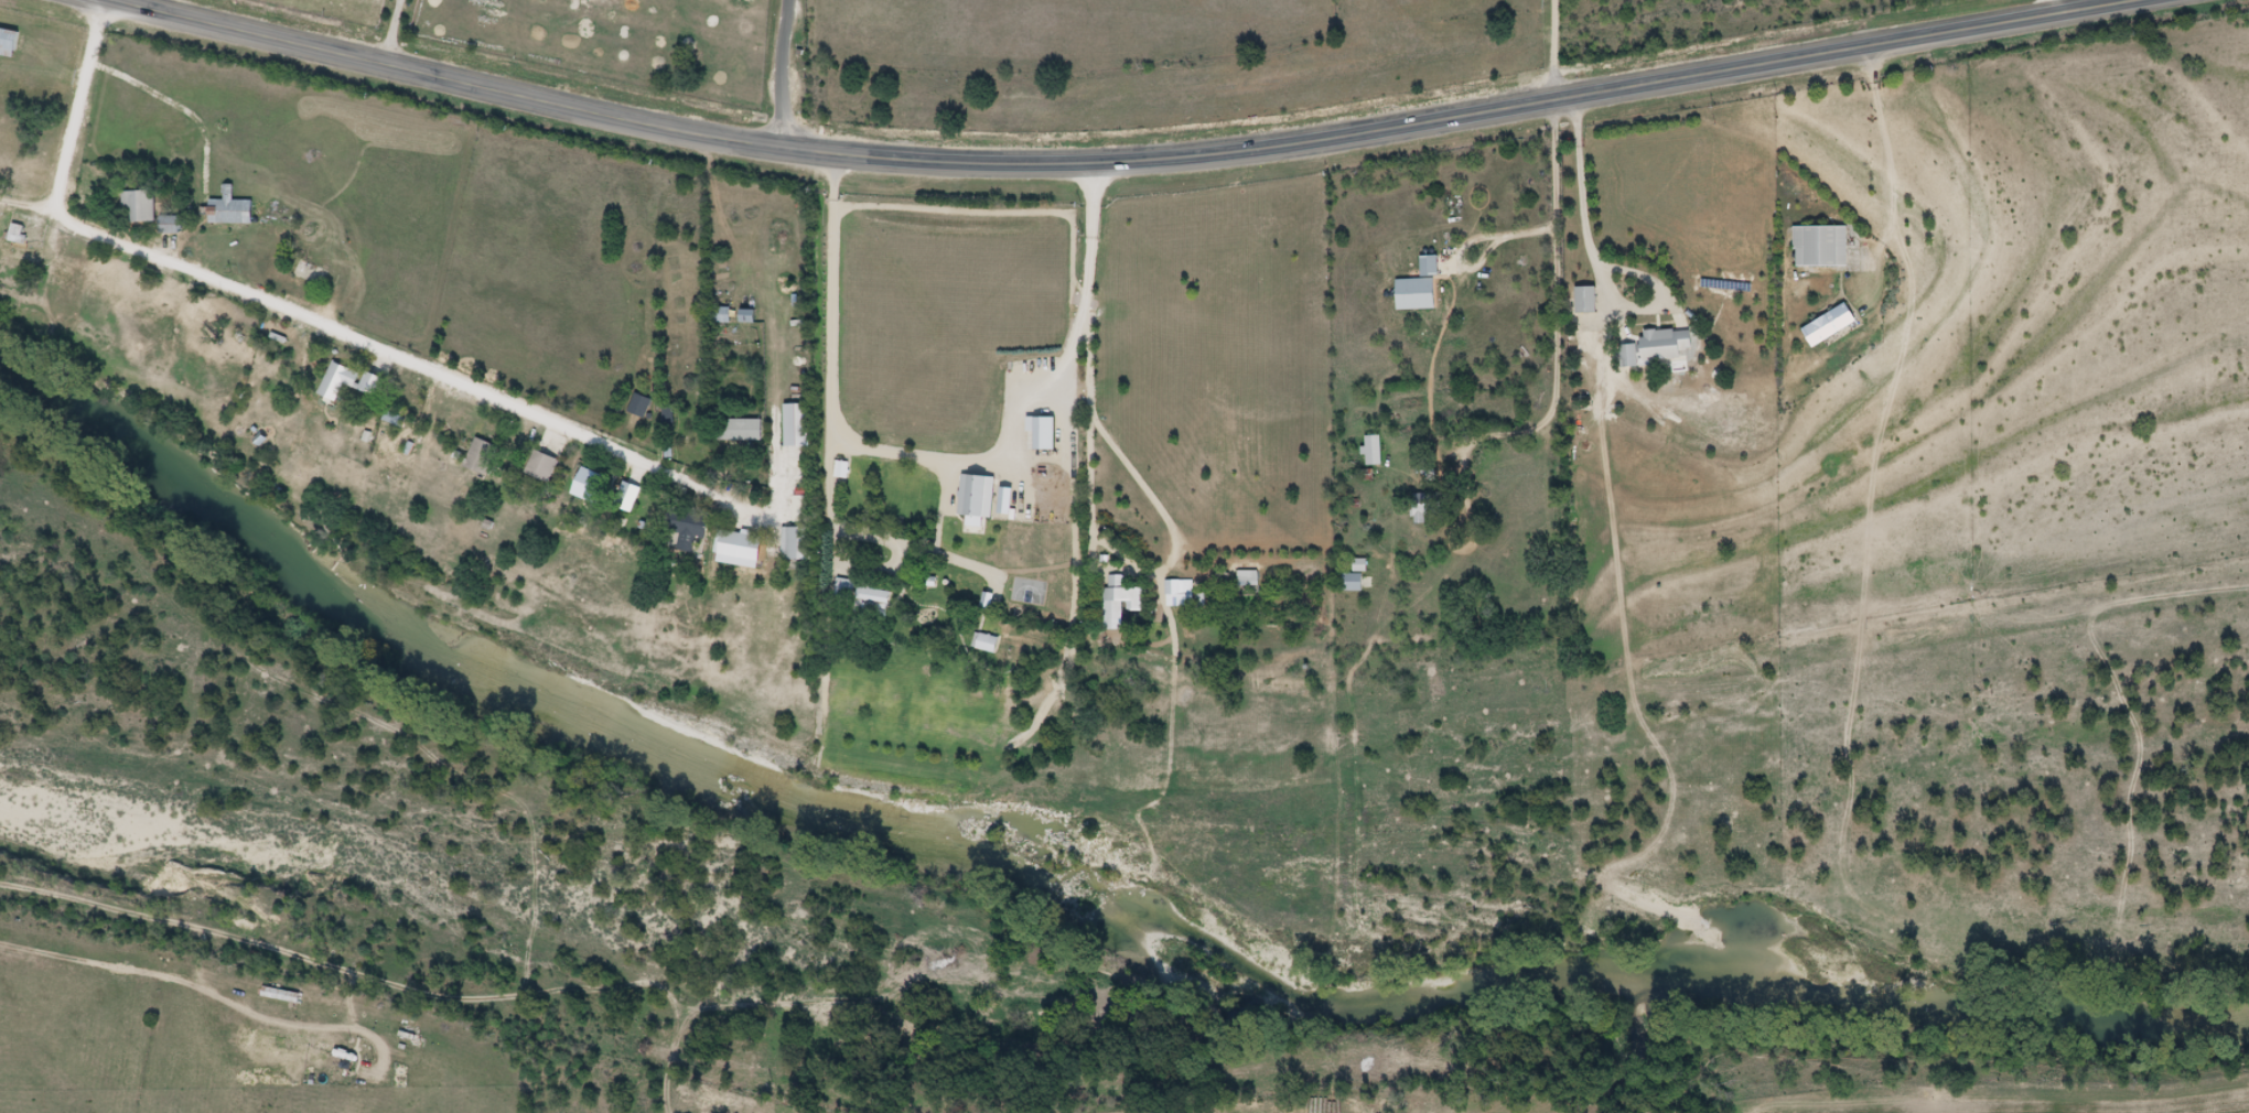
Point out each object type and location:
road: (2055, 8)
road: (370, 31)
road: (1709, 39)
road: (1653, 42)
building: (13, 43)
road: (1597, 46)
road: (1550, 52)
road: (790, 76)
road: (1885, 136)
road: (1119, 161)
road: (1588, 203)
building: (147, 206)
building: (234, 215)
road: (35, 221)
building: (176, 225)
building: (24, 234)
building: (1816, 248)
road: (1906, 256)
road: (1483, 258)
building: (1416, 290)
building: (1581, 301)
road: (1557, 305)
road: (298, 313)
building: (728, 314)
building: (1823, 326)
building: (1654, 349)
road: (1088, 364)
building: (347, 379)
building: (384, 381)
building: (646, 404)
building: (747, 429)
road: (829, 429)
building: (1370, 451)
building: (491, 454)
building: (889, 455)
road: (1000, 458)
building: (550, 464)
building: (612, 488)
building: (1424, 504)
road: (1169, 523)
building: (695, 526)
building: (751, 540)
road: (837, 556)
building: (1246, 579)
building: (1349, 582)
building: (1176, 593)
building: (868, 598)
building: (1116, 602)
building: (981, 642)
river: (1082, 934)

